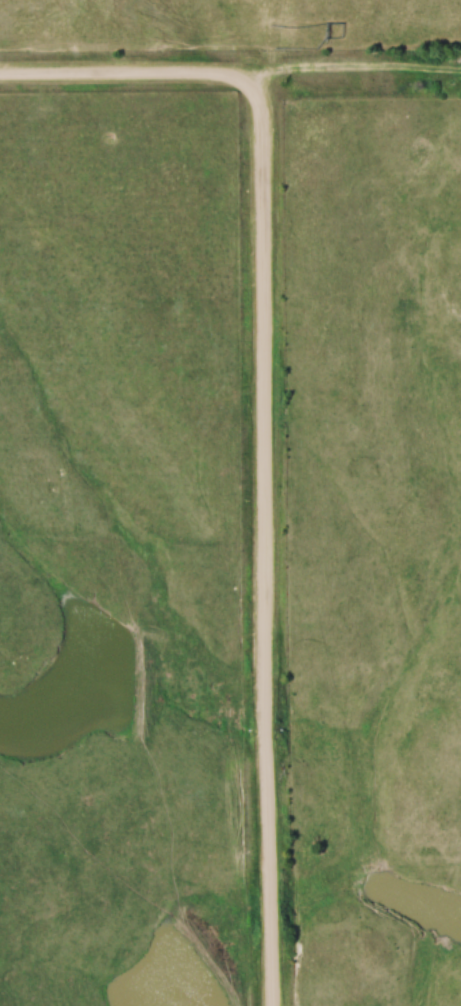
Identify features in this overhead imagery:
road: (125, 78)
road: (264, 542)

